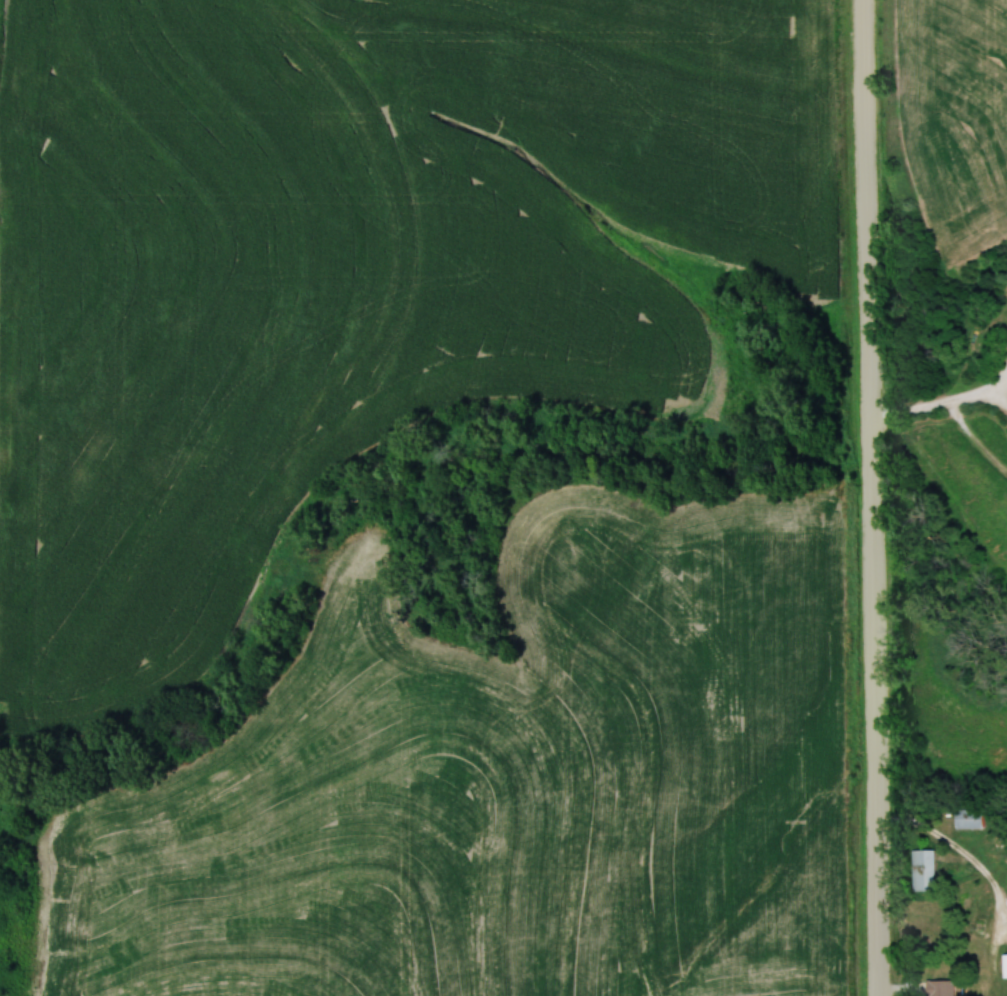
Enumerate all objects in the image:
road: (943, 404)
road: (873, 497)
building: (966, 819)
building: (921, 871)
building: (1003, 966)
building: (937, 988)

